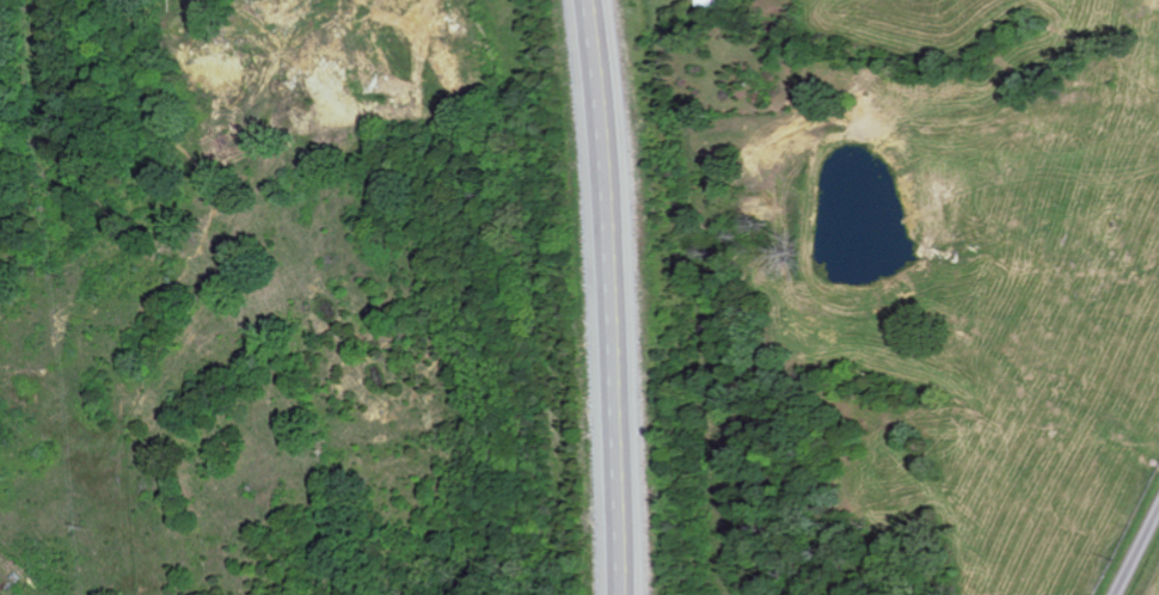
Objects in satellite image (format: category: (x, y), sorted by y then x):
building: (706, 4)
road: (621, 296)
road: (1136, 552)

